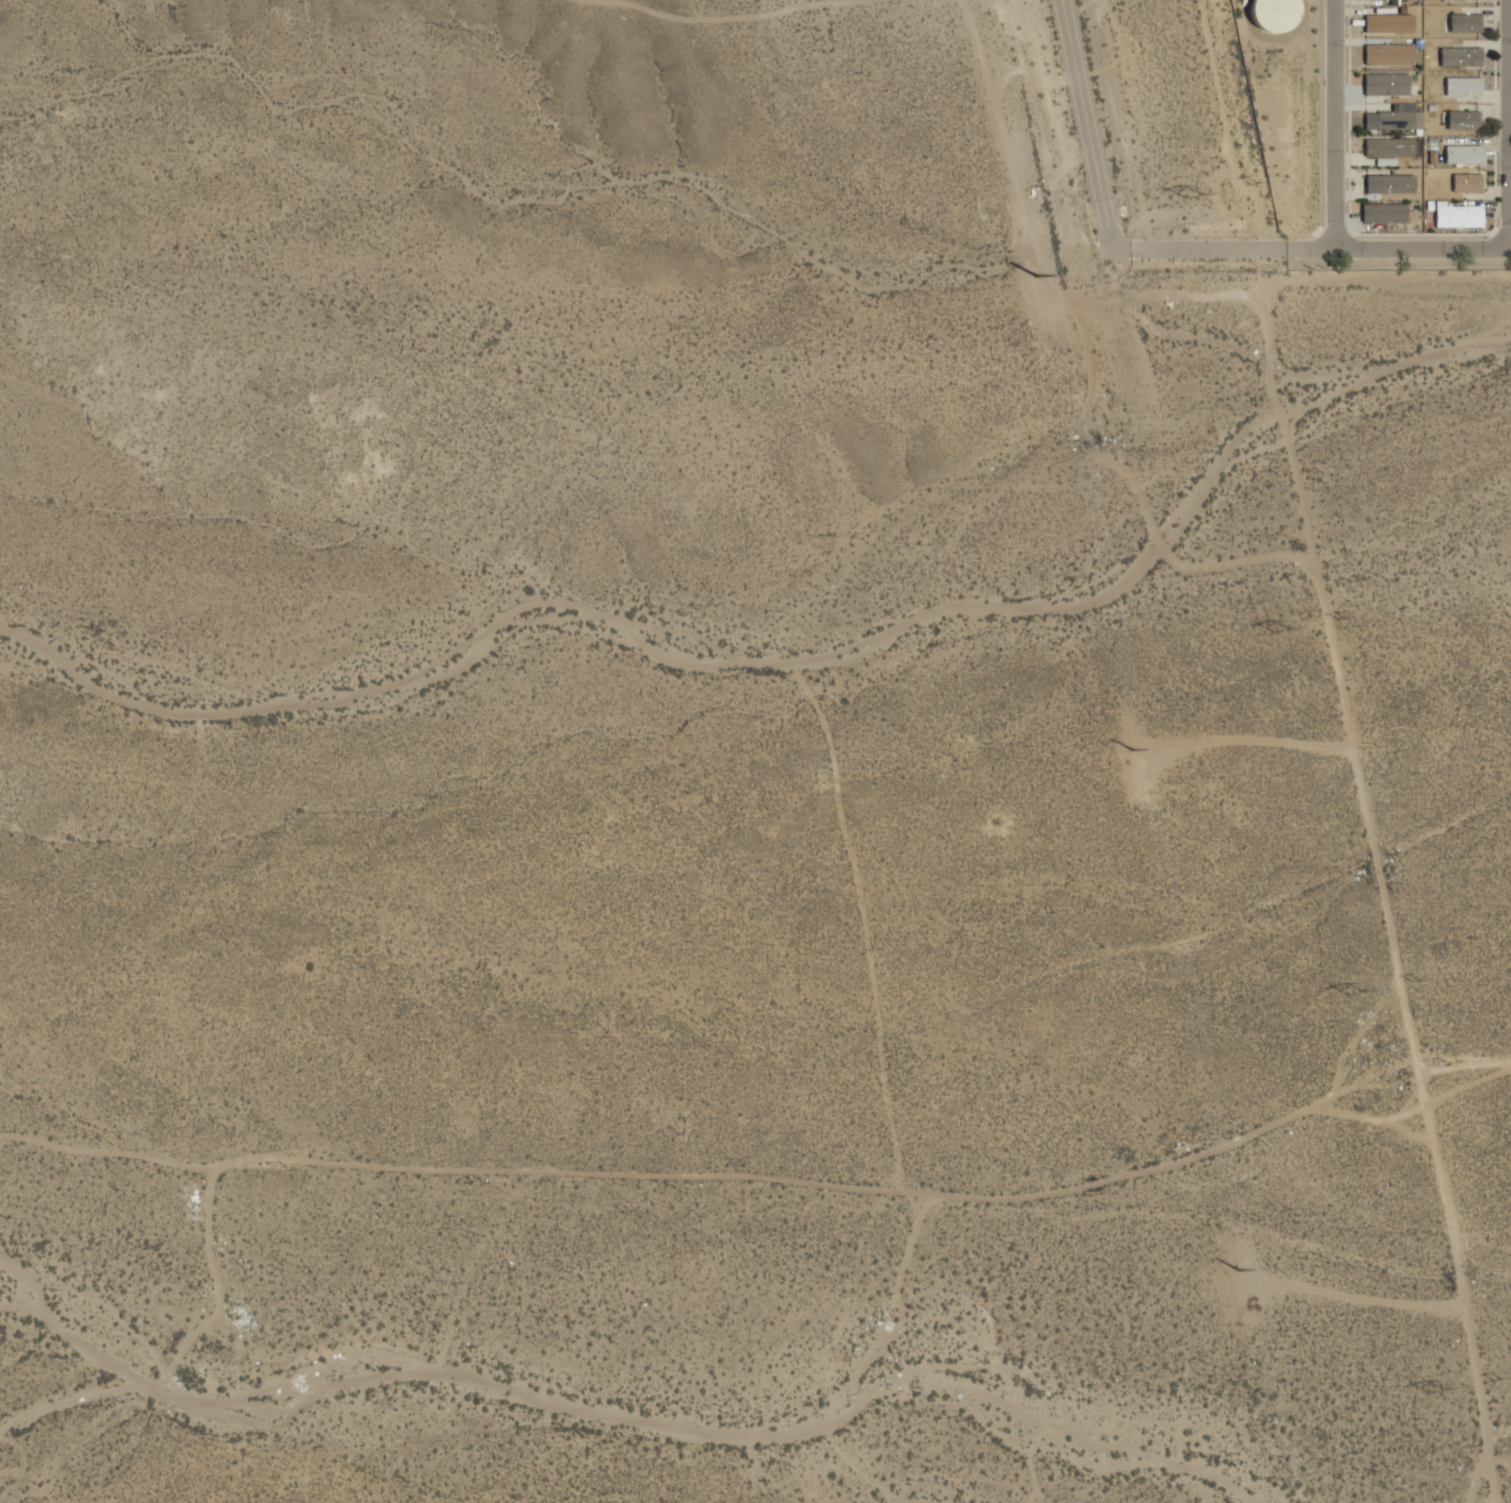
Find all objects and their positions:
building: (1276, 14)
storage tank: (1276, 14)
building: (1466, 24)
building: (1389, 25)
building: (1389, 56)
building: (1461, 58)
building: (1386, 86)
building: (1463, 88)
building: (1464, 121)
road: (1332, 123)
building: (1396, 123)
road: (1508, 123)
road: (1087, 124)
building: (1389, 149)
building: (1464, 155)
power tower: (1254, 183)
building: (1467, 184)
building: (1390, 185)
power tower: (1192, 193)
building: (1385, 214)
building: (1459, 217)
road: (1312, 247)
power tower: (1036, 274)
power tower: (1342, 619)
power tower: (1282, 633)
power tower: (1135, 750)
power tower: (1416, 981)
power tower: (1356, 993)
power tower: (1240, 1268)
power tower: (1497, 1378)
power tower: (1435, 1393)

